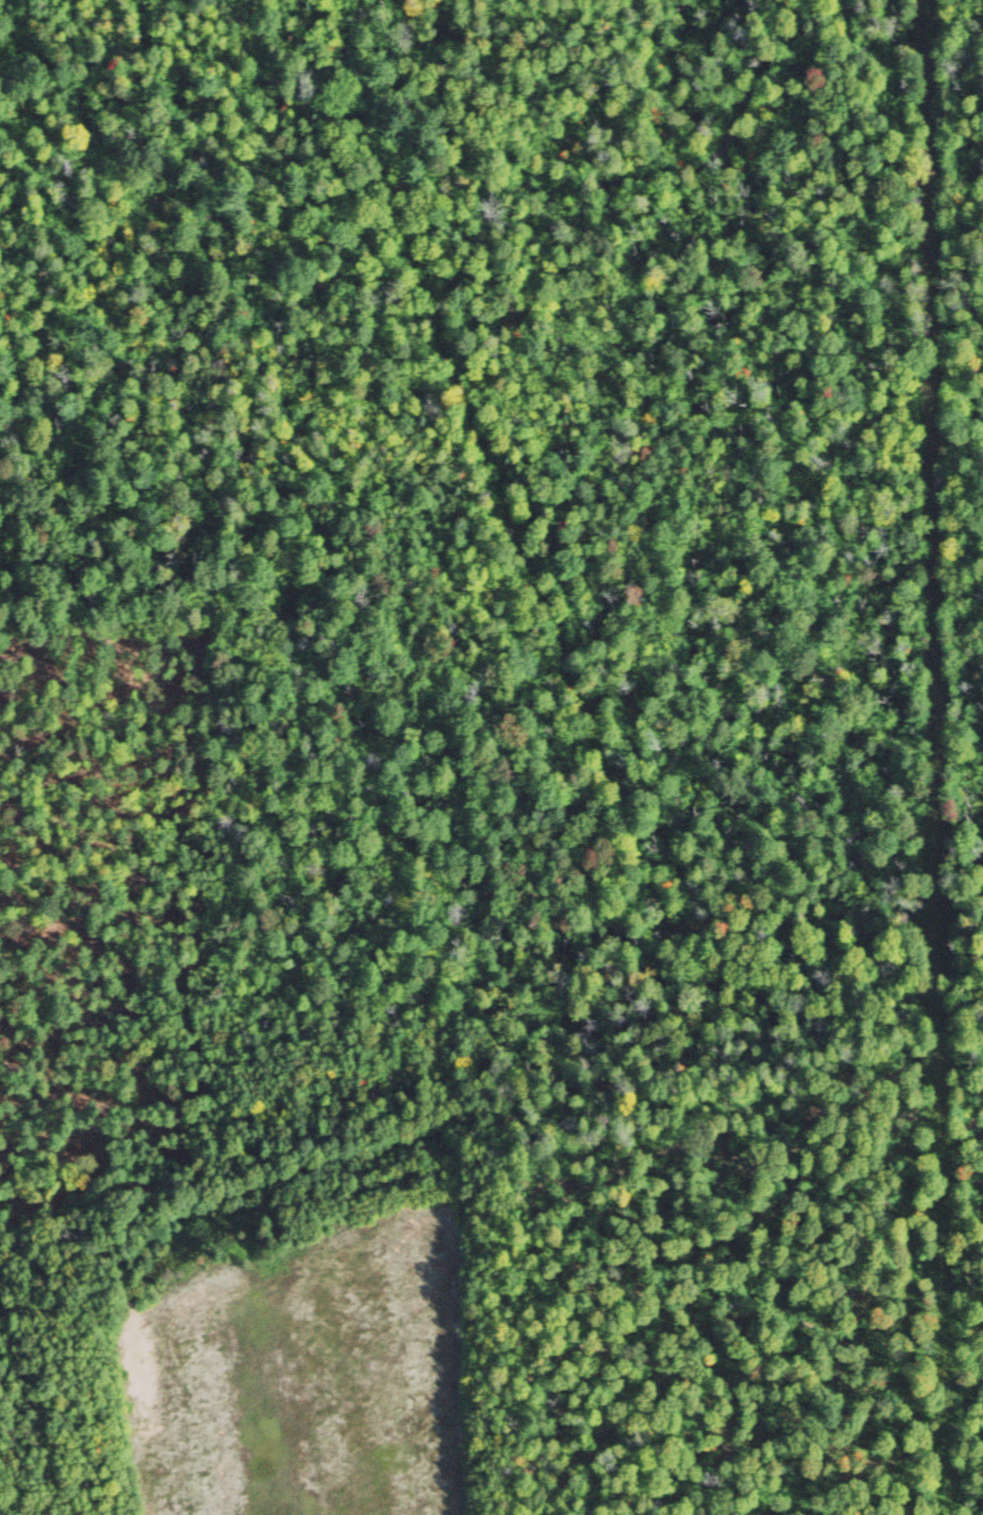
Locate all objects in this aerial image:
road: (634, 163)
road: (487, 467)
road: (818, 986)

